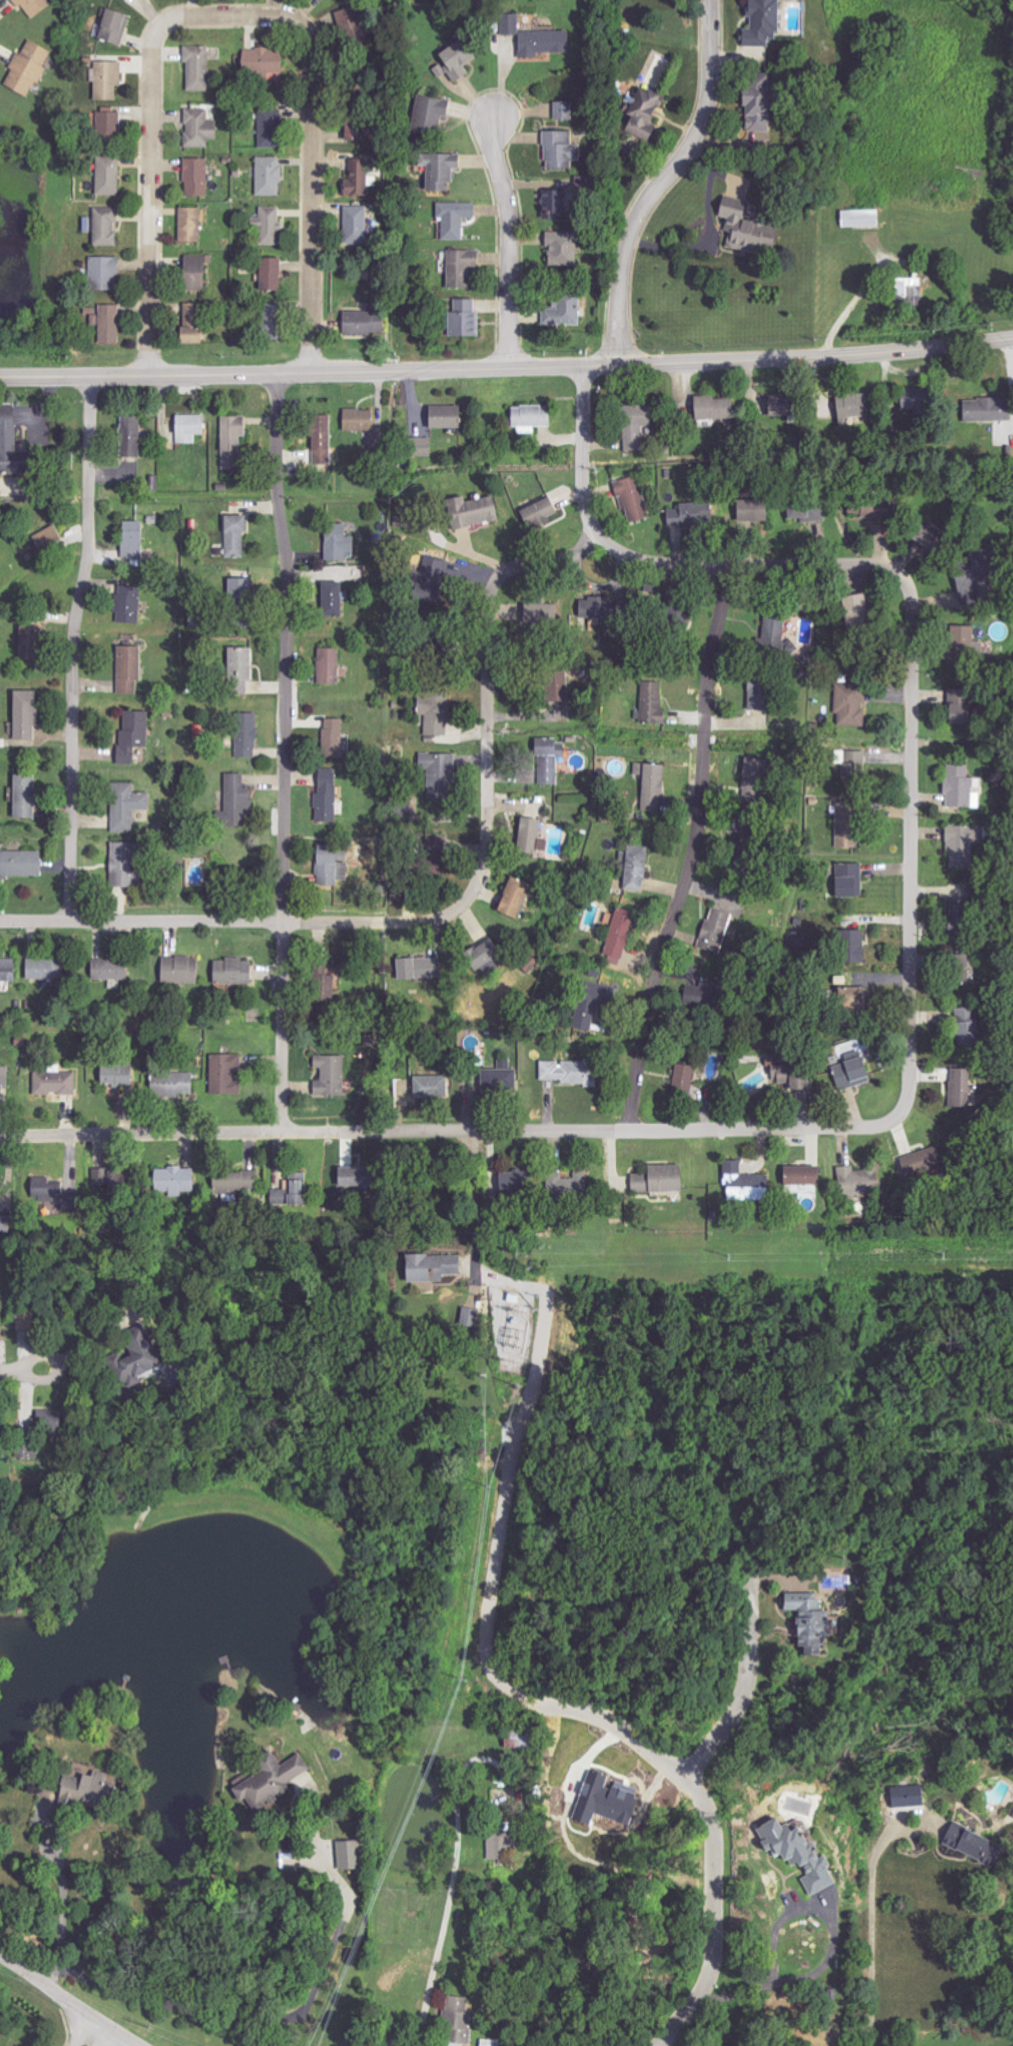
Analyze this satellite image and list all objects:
building: (32, 6)
building: (760, 22)
building: (510, 24)
building: (113, 26)
building: (541, 43)
building: (262, 60)
building: (455, 61)
building: (196, 68)
building: (27, 69)
building: (107, 79)
building: (755, 100)
building: (562, 110)
building: (642, 112)
building: (428, 113)
building: (107, 124)
building: (269, 127)
building: (198, 128)
building: (350, 131)
road: (694, 136)
building: (559, 149)
road: (311, 161)
road: (153, 165)
building: (438, 169)
building: (106, 175)
building: (268, 176)
building: (195, 177)
building: (358, 178)
building: (554, 203)
building: (453, 218)
building: (861, 218)
building: (190, 224)
building: (268, 225)
building: (356, 225)
building: (104, 226)
building: (744, 226)
road: (508, 233)
building: (560, 248)
building: (460, 267)
building: (193, 271)
building: (103, 273)
building: (269, 274)
building: (907, 291)
building: (564, 309)
road: (620, 311)
building: (463, 318)
building: (362, 322)
building: (106, 323)
building: (267, 323)
building: (191, 324)
road: (506, 368)
building: (776, 406)
building: (850, 407)
building: (710, 408)
building: (985, 410)
building: (442, 416)
building: (529, 416)
building: (358, 419)
building: (633, 424)
building: (188, 428)
building: (129, 436)
building: (7, 439)
building: (231, 440)
building: (320, 440)
building: (421, 446)
road: (584, 449)
building: (631, 498)
building: (866, 509)
building: (471, 511)
building: (539, 512)
building: (803, 512)
building: (677, 523)
building: (233, 536)
building: (49, 537)
building: (131, 539)
building: (928, 539)
building: (337, 543)
building: (431, 572)
building: (966, 579)
building: (331, 599)
building: (127, 604)
building: (592, 608)
building: (854, 611)
building: (541, 613)
building: (775, 635)
building: (31, 636)
building: (962, 641)
road: (79, 649)
building: (327, 666)
building: (129, 670)
building: (238, 670)
building: (553, 687)
road: (913, 692)
building: (755, 696)
building: (651, 702)
building: (849, 705)
building: (435, 713)
building: (956, 714)
building: (24, 715)
building: (133, 734)
building: (245, 735)
building: (331, 738)
road: (281, 750)
building: (548, 759)
building: (850, 760)
building: (751, 767)
building: (439, 773)
building: (651, 785)
building: (960, 786)
building: (23, 796)
building: (325, 796)
building: (233, 802)
building: (126, 806)
building: (845, 825)
building: (530, 835)
building: (435, 844)
building: (960, 844)
building: (737, 849)
road: (693, 851)
building: (19, 863)
building: (120, 865)
building: (329, 867)
building: (636, 868)
building: (197, 872)
building: (848, 880)
building: (514, 897)
building: (955, 905)
road: (455, 913)
building: (715, 930)
building: (619, 933)
building: (852, 946)
building: (481, 955)
building: (420, 968)
building: (178, 969)
building: (7, 970)
building: (43, 970)
building: (108, 970)
building: (959, 971)
building: (232, 972)
building: (324, 976)
building: (591, 1003)
building: (962, 1014)
building: (965, 1034)
building: (569, 1073)
building: (224, 1074)
building: (850, 1074)
building: (116, 1075)
building: (329, 1075)
building: (3, 1076)
building: (496, 1079)
building: (682, 1080)
building: (54, 1082)
building: (798, 1083)
building: (173, 1084)
building: (430, 1087)
building: (958, 1090)
road: (446, 1130)
building: (918, 1160)
building: (800, 1175)
building: (235, 1179)
building: (347, 1179)
building: (176, 1180)
building: (657, 1180)
building: (856, 1181)
building: (511, 1183)
building: (744, 1183)
building: (292, 1187)
building: (563, 1187)
building: (48, 1191)
road: (477, 1201)
building: (428, 1265)
building: (467, 1316)
building: (132, 1358)
road: (22, 1367)
building: (808, 1623)
road: (745, 1678)
building: (269, 1780)
building: (85, 1789)
building: (605, 1798)
road: (712, 1823)
building: (498, 1840)
building: (975, 1846)
building: (797, 1852)
building: (346, 1854)
road: (450, 1872)
road: (60, 1892)
road: (874, 1911)
road: (829, 1943)
road: (66, 2002)
road: (281, 2017)
building: (456, 2021)
road: (78, 2031)
road: (100, 2037)

